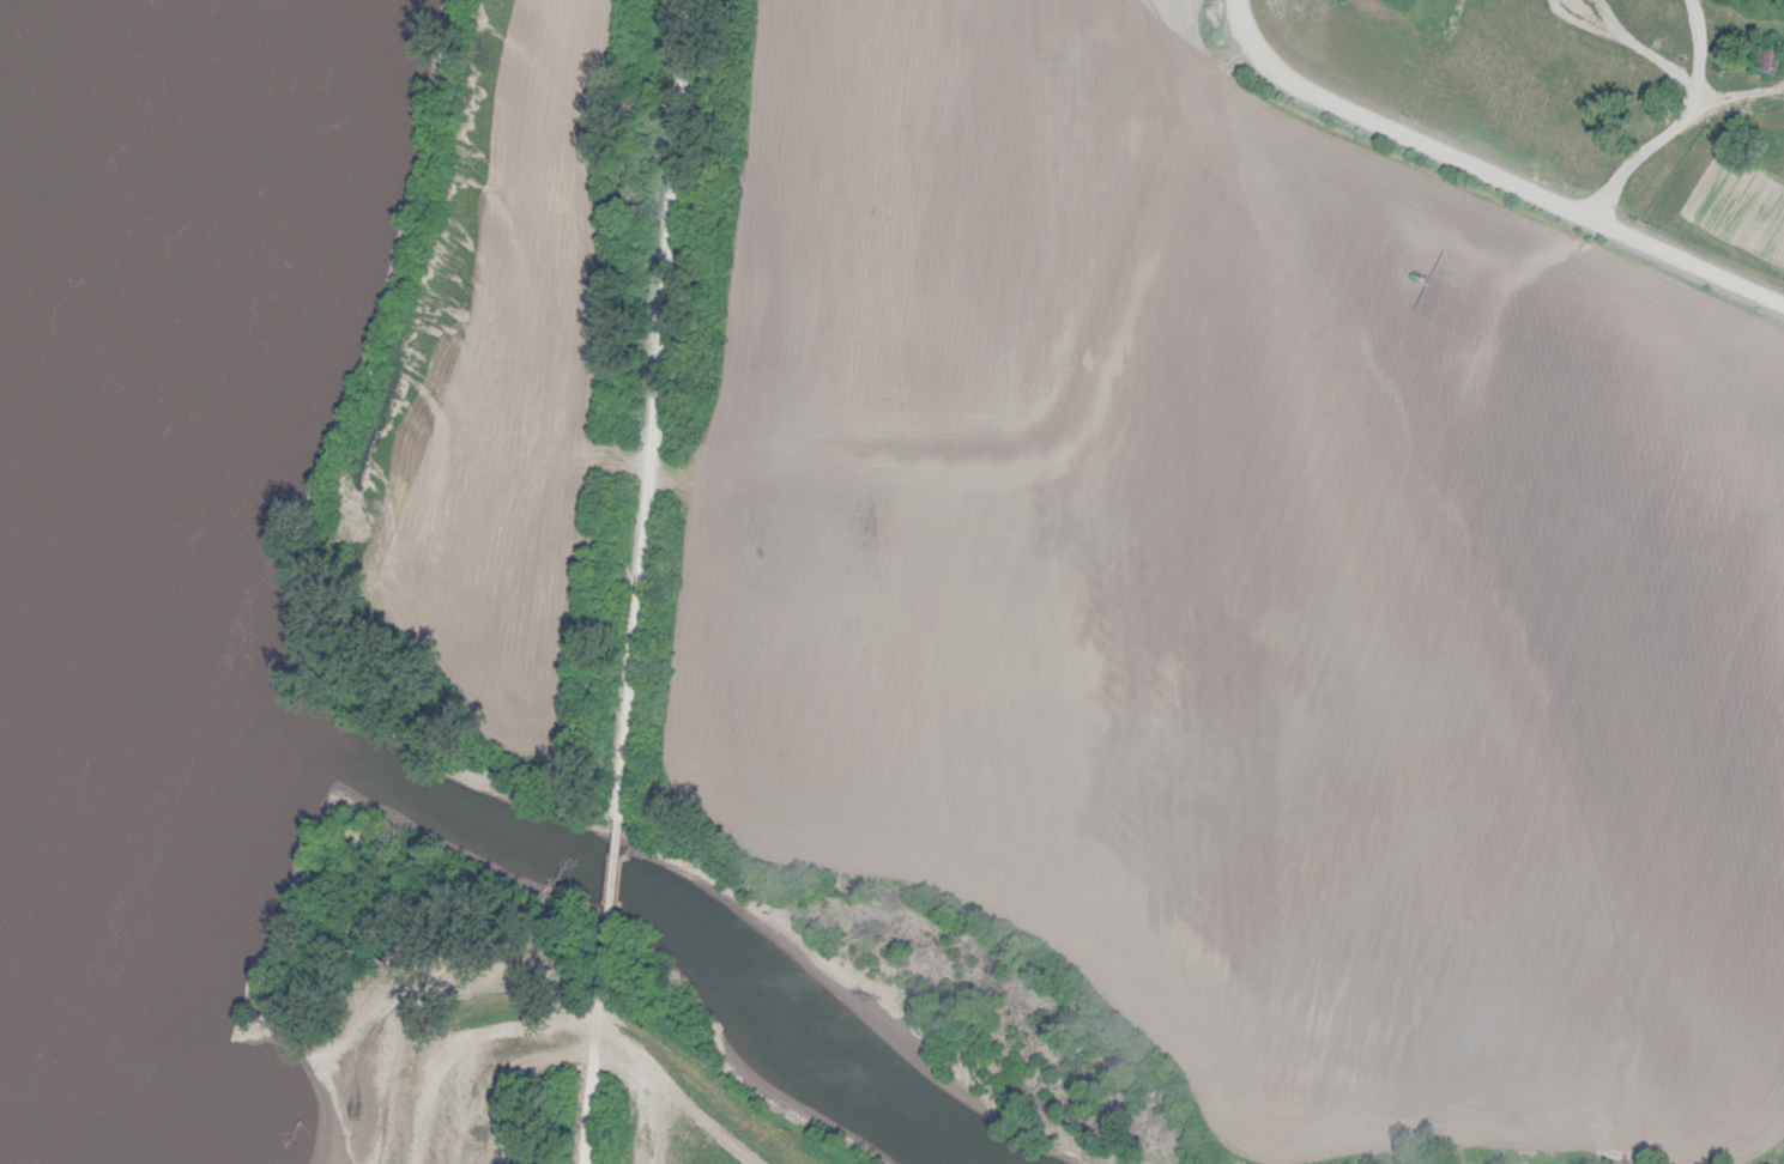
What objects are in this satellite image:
road: (1671, 122)
road: (1483, 172)
road: (635, 581)
road: (339, 1067)
road: (643, 1080)

